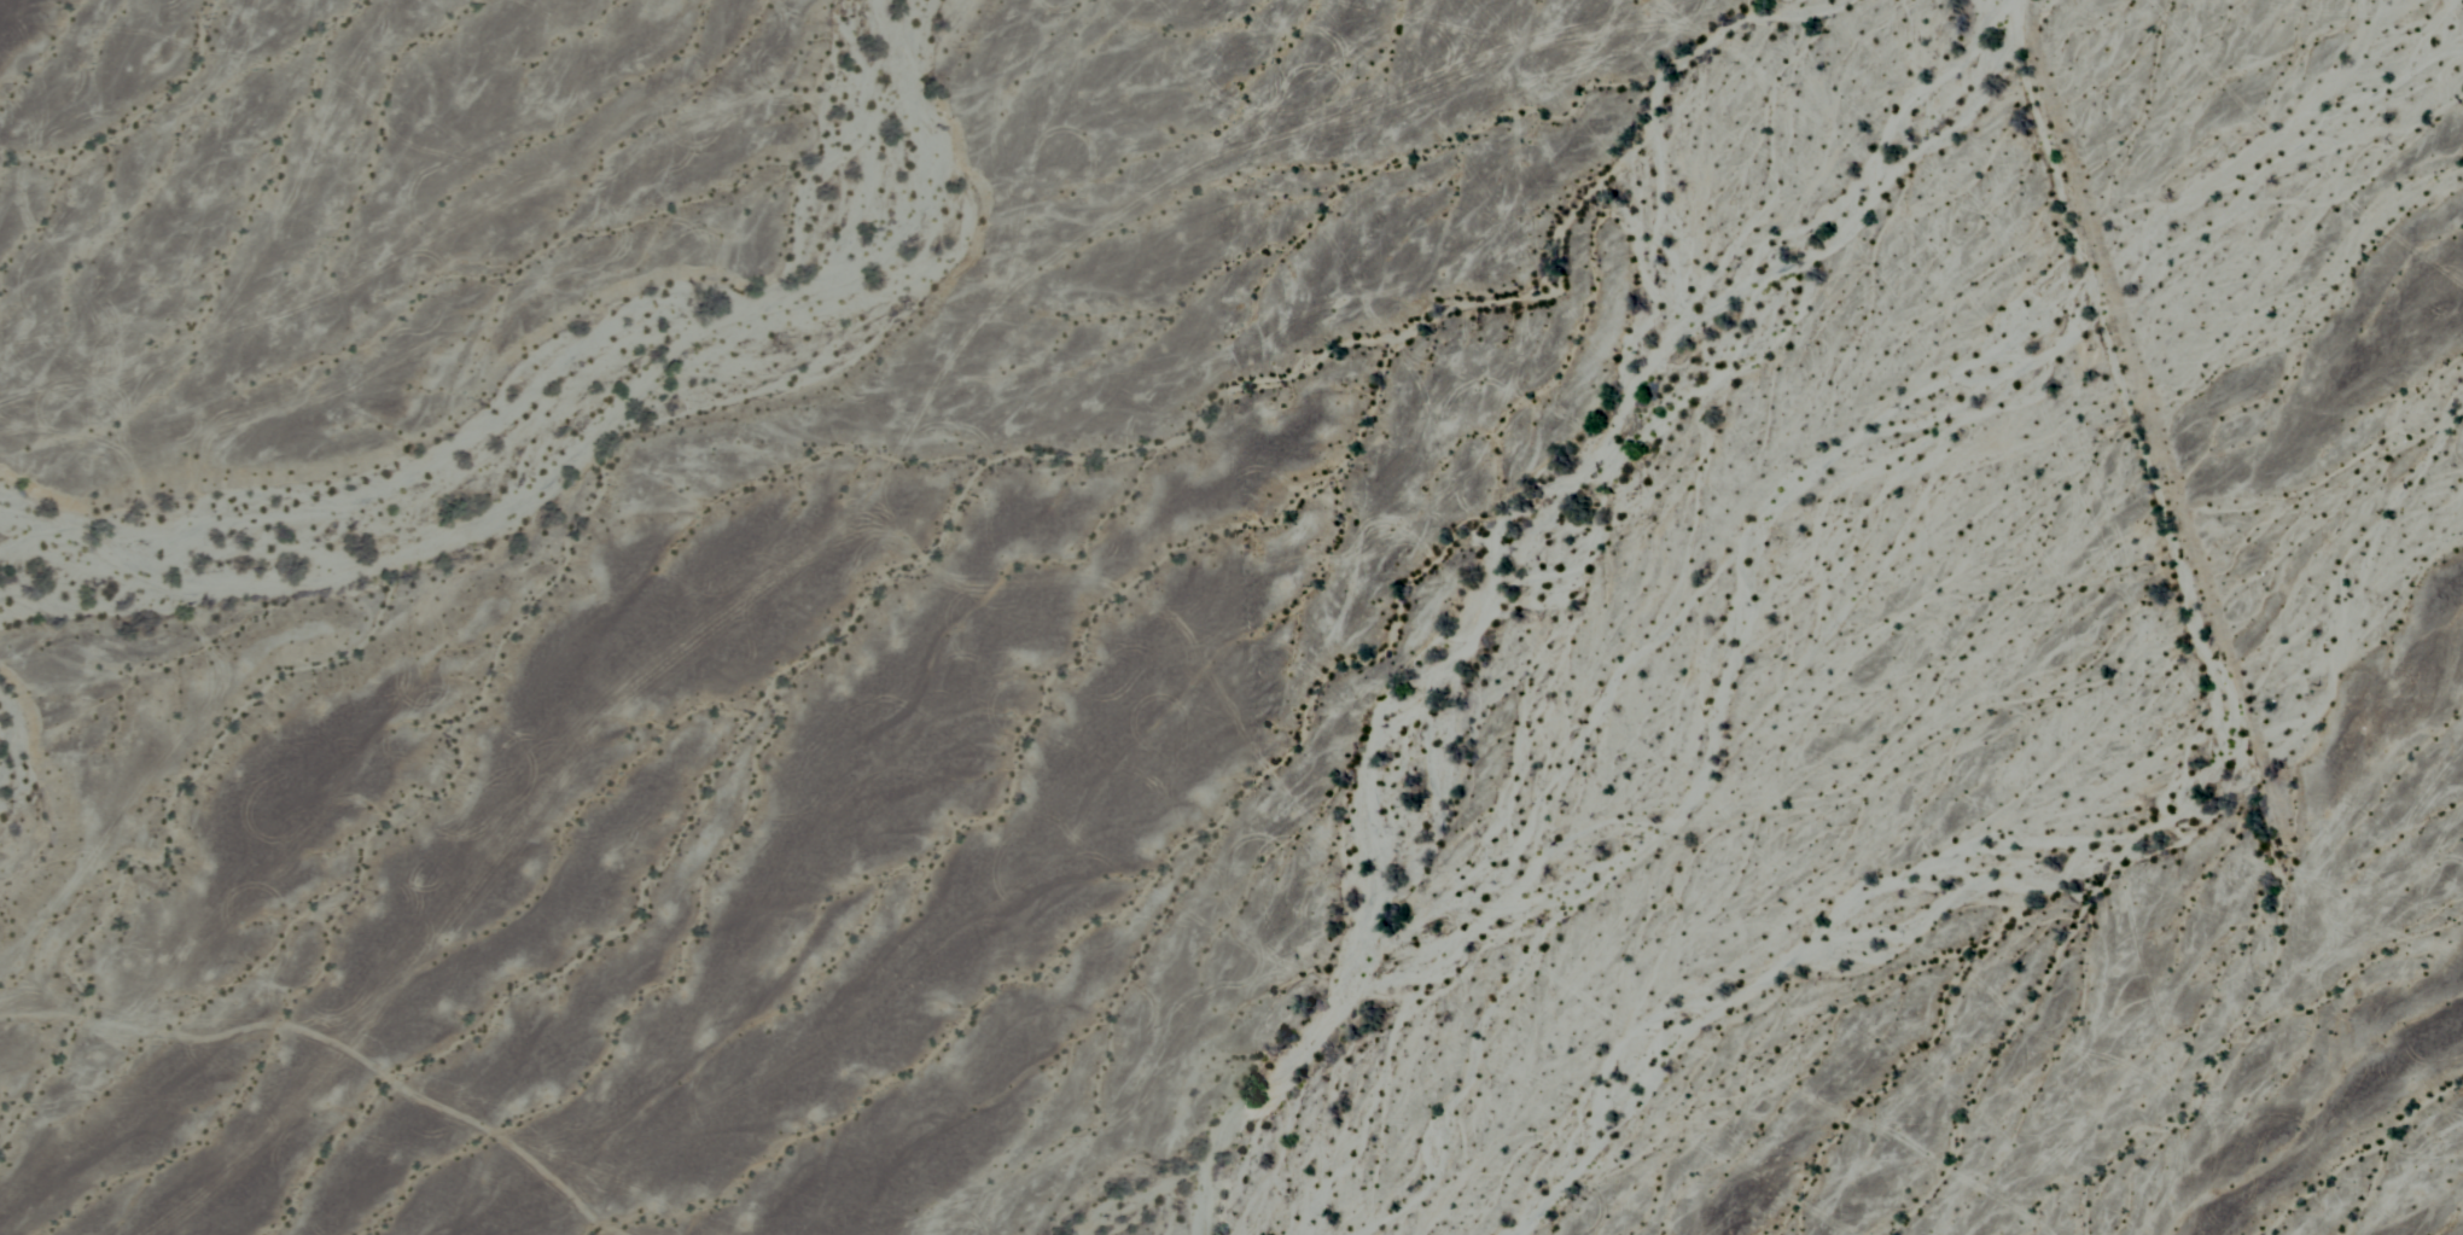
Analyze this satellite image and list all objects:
road: (337, 1048)

